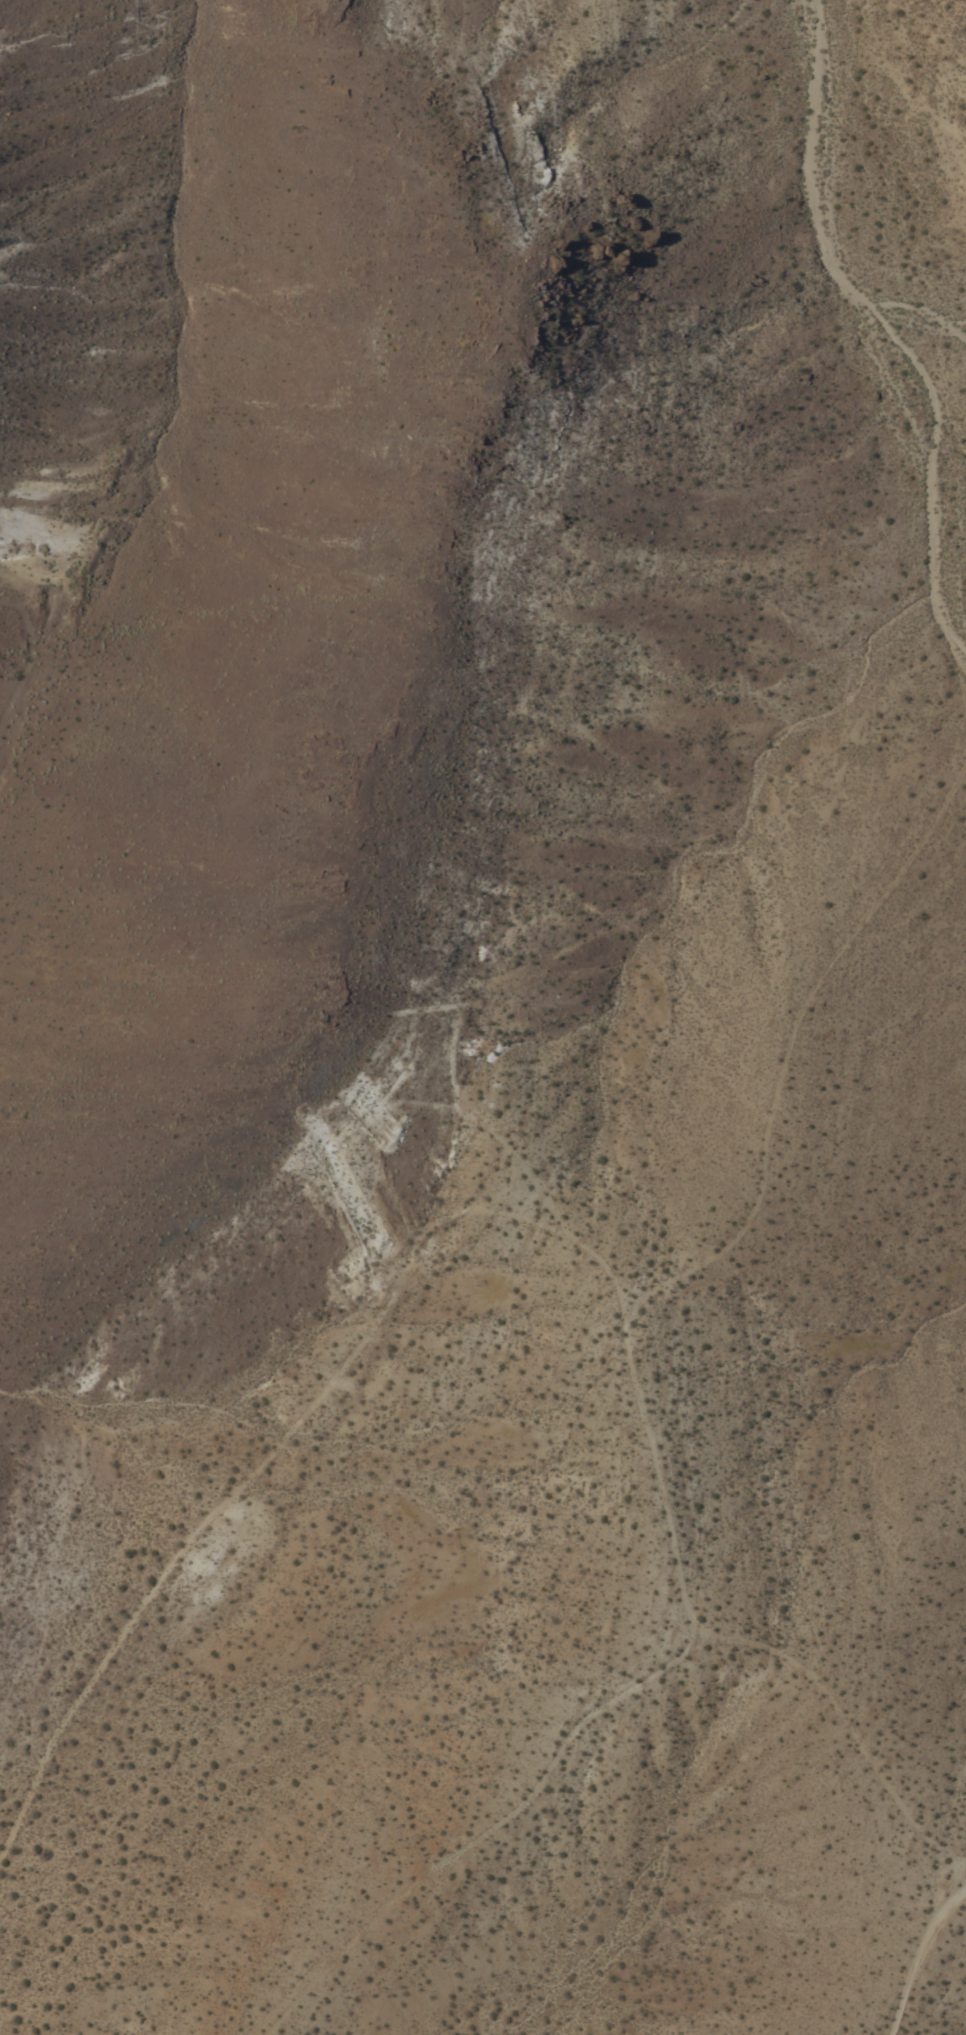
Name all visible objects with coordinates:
road: (916, 1954)

